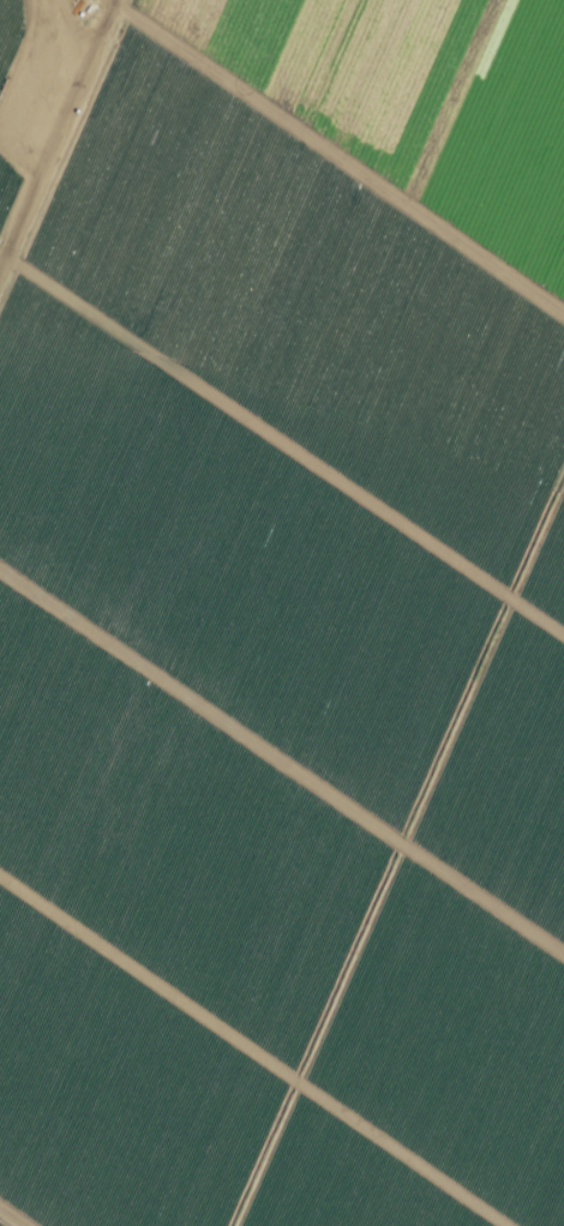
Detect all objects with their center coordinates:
crop: (282, 613)

